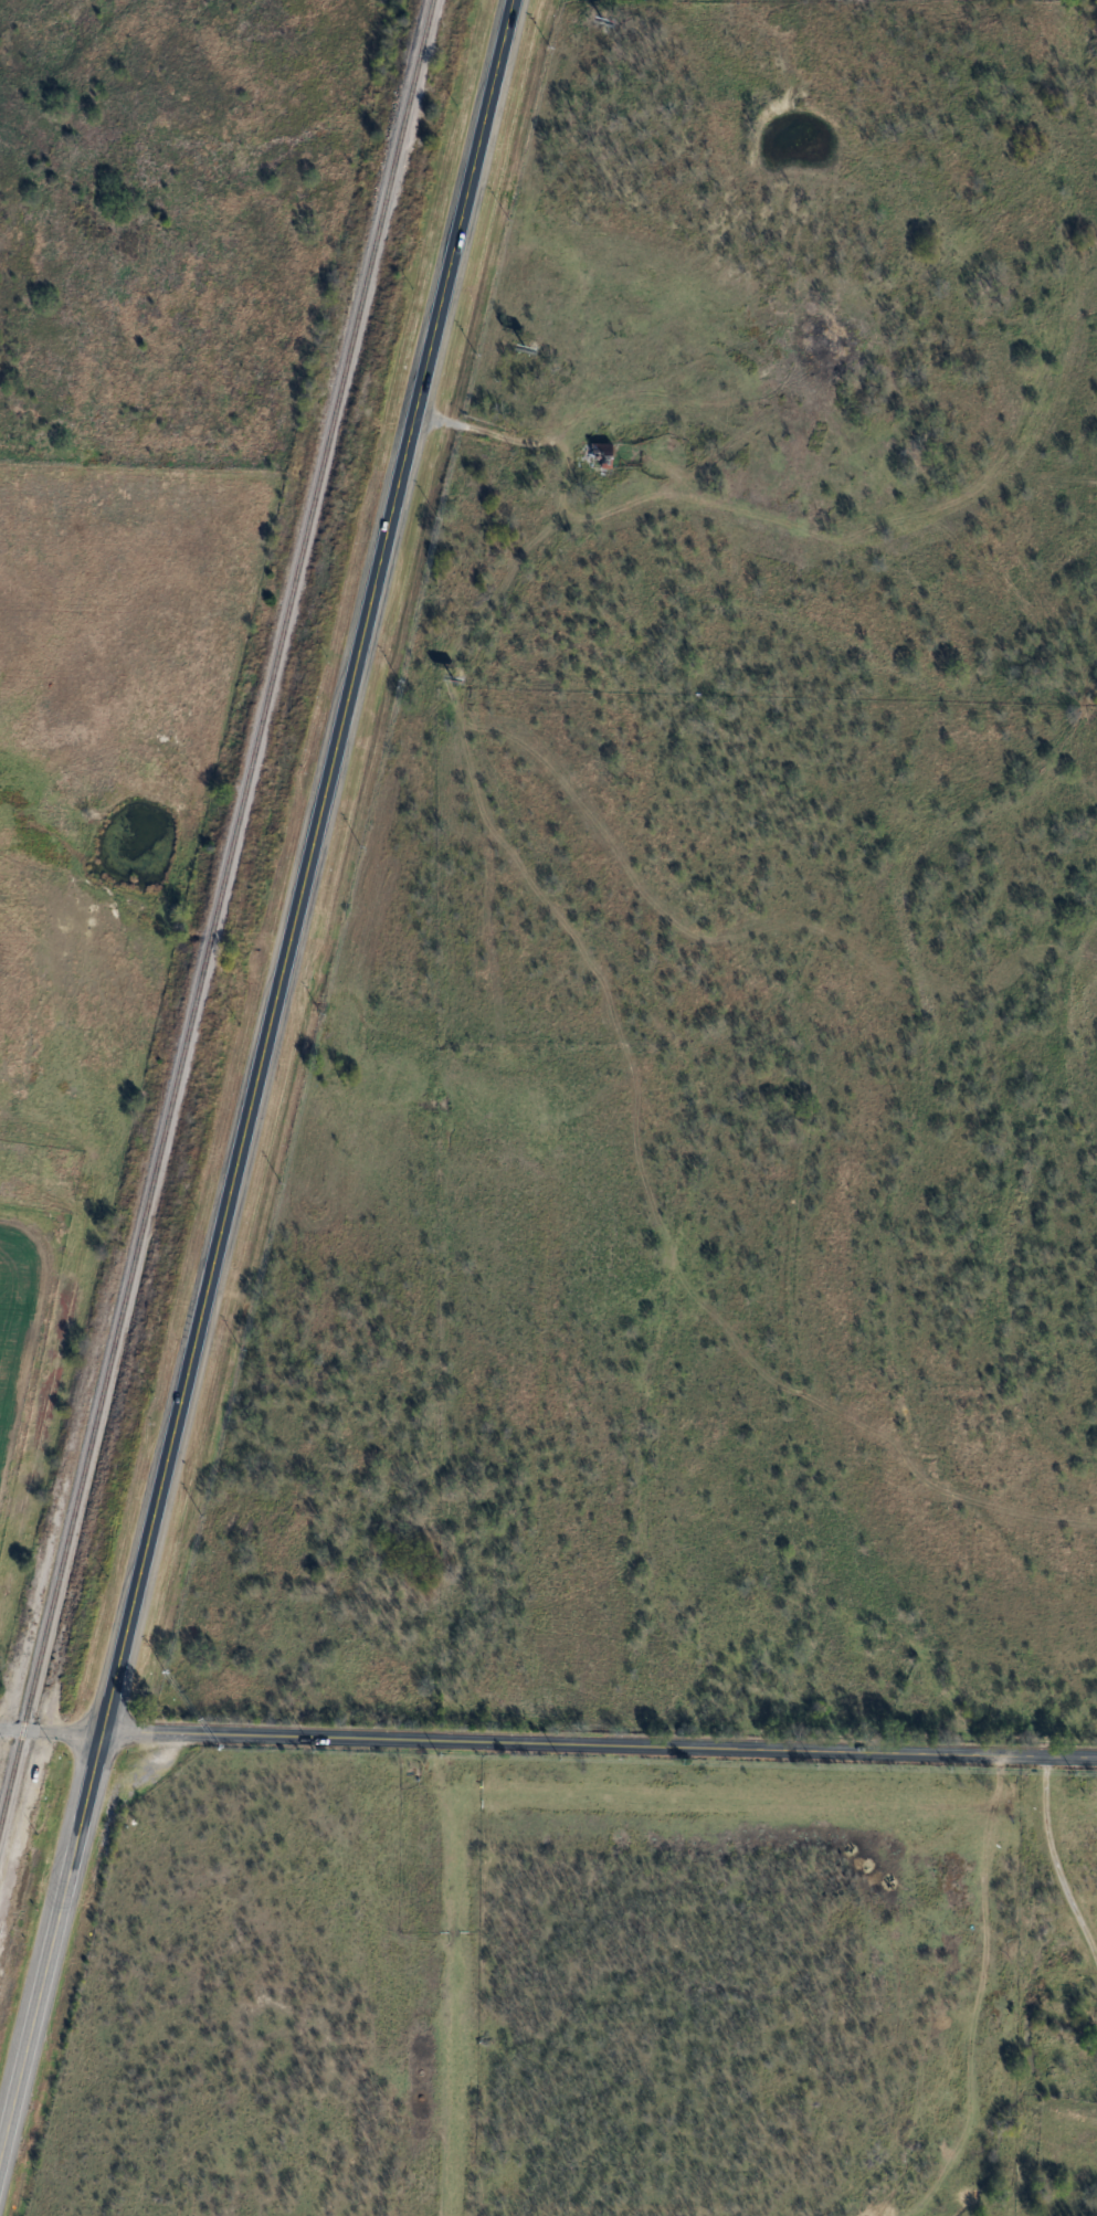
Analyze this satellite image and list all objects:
building: (603, 454)
road: (304, 865)
railway: (217, 916)
road: (23, 1729)
road: (72, 1731)
road: (291, 1735)
road: (791, 1749)
road: (1055, 1863)
road: (48, 1933)

